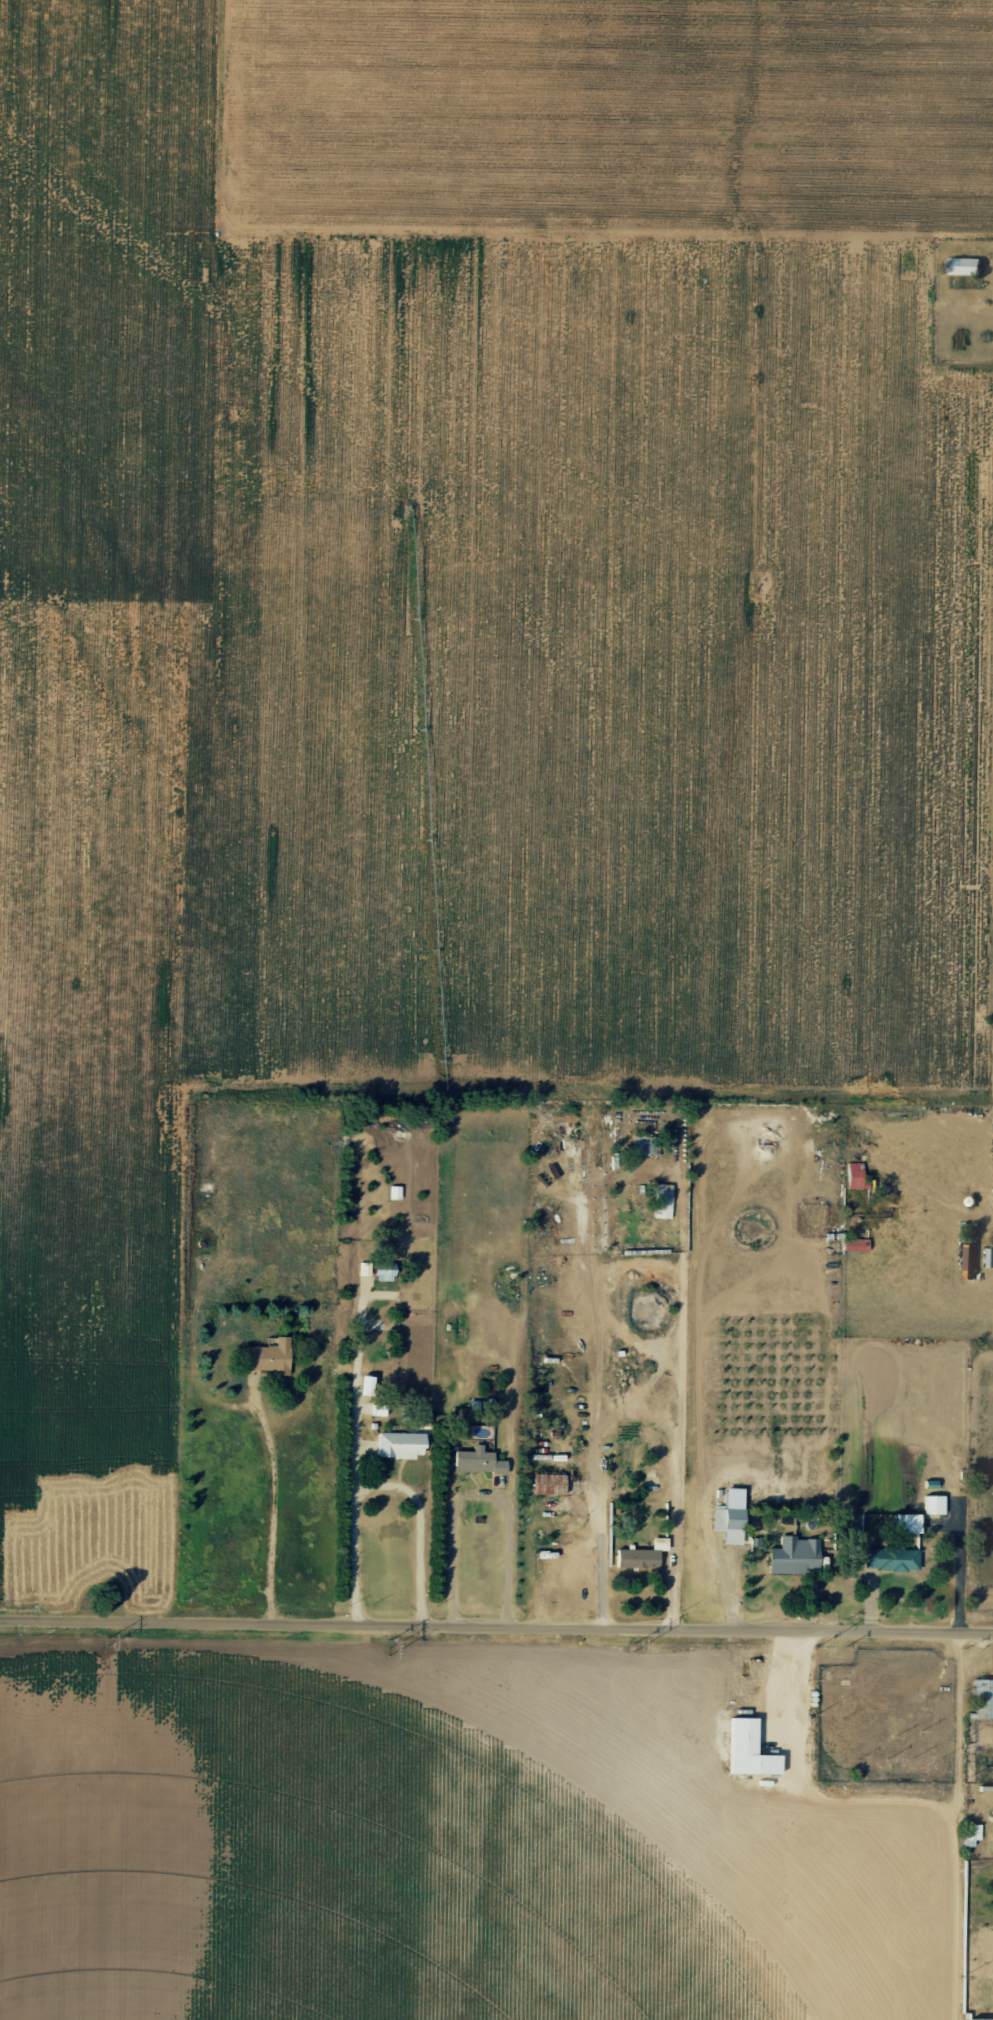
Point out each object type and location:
building: (963, 266)
road: (342, 544)
road: (930, 823)
building: (648, 1144)
building: (857, 1175)
building: (858, 1244)
building: (990, 1258)
building: (273, 1355)
building: (370, 1384)
road: (633, 1413)
building: (404, 1444)
building: (478, 1459)
road: (356, 1466)
building: (551, 1483)
road: (478, 1495)
building: (933, 1503)
building: (901, 1521)
building: (727, 1524)
road: (422, 1531)
building: (792, 1554)
building: (639, 1555)
building: (889, 1557)
road: (496, 1640)
building: (981, 1697)
building: (748, 1749)
road: (544, 1830)
building: (992, 1833)
building: (978, 2018)

